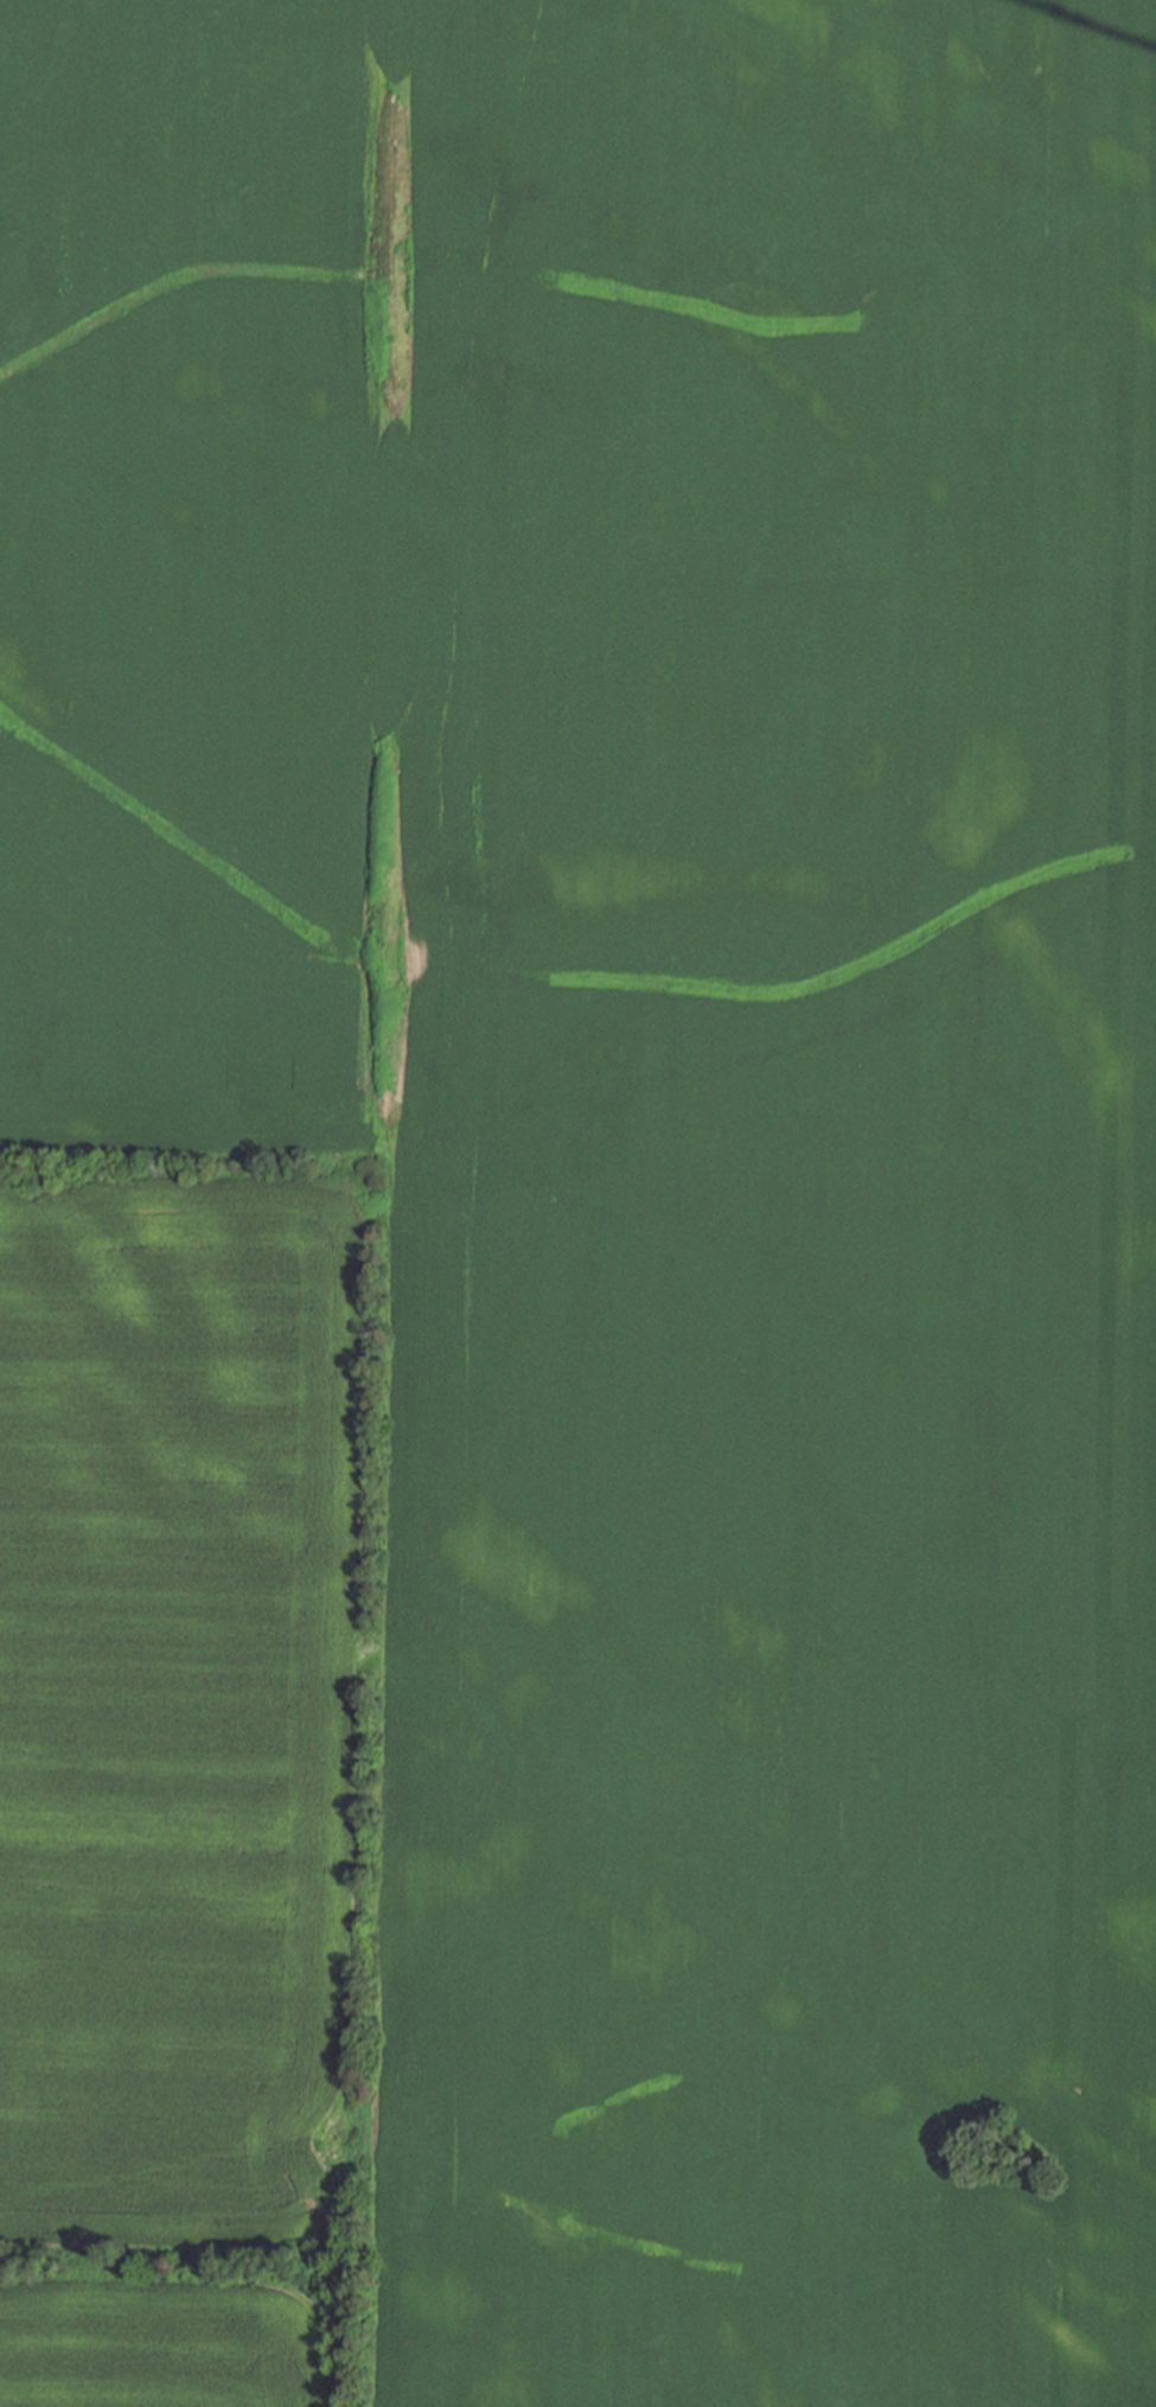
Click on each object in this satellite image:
crop: (577, 1203)

